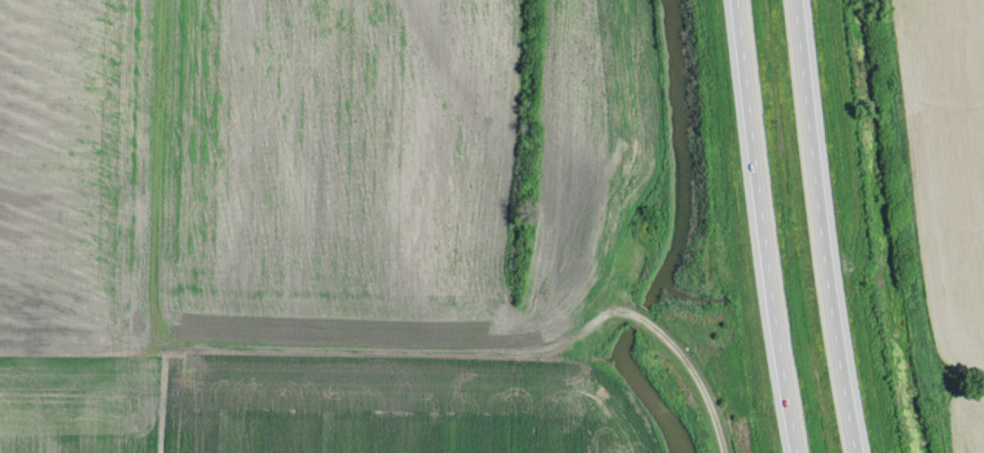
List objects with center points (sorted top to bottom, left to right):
road: (769, 226)
road: (827, 227)
road: (710, 430)

